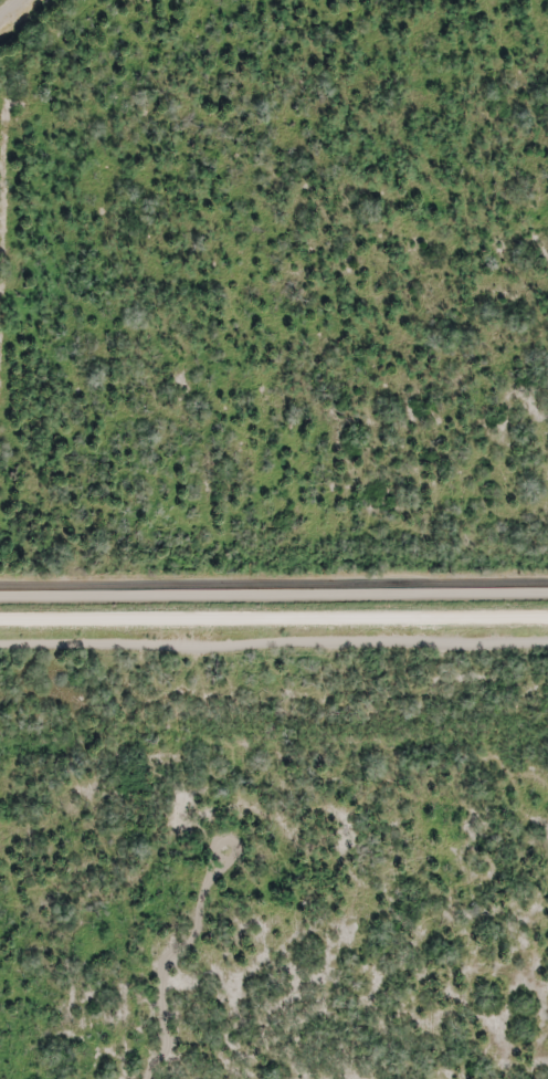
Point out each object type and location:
road: (274, 624)
road: (233, 841)
road: (167, 973)

